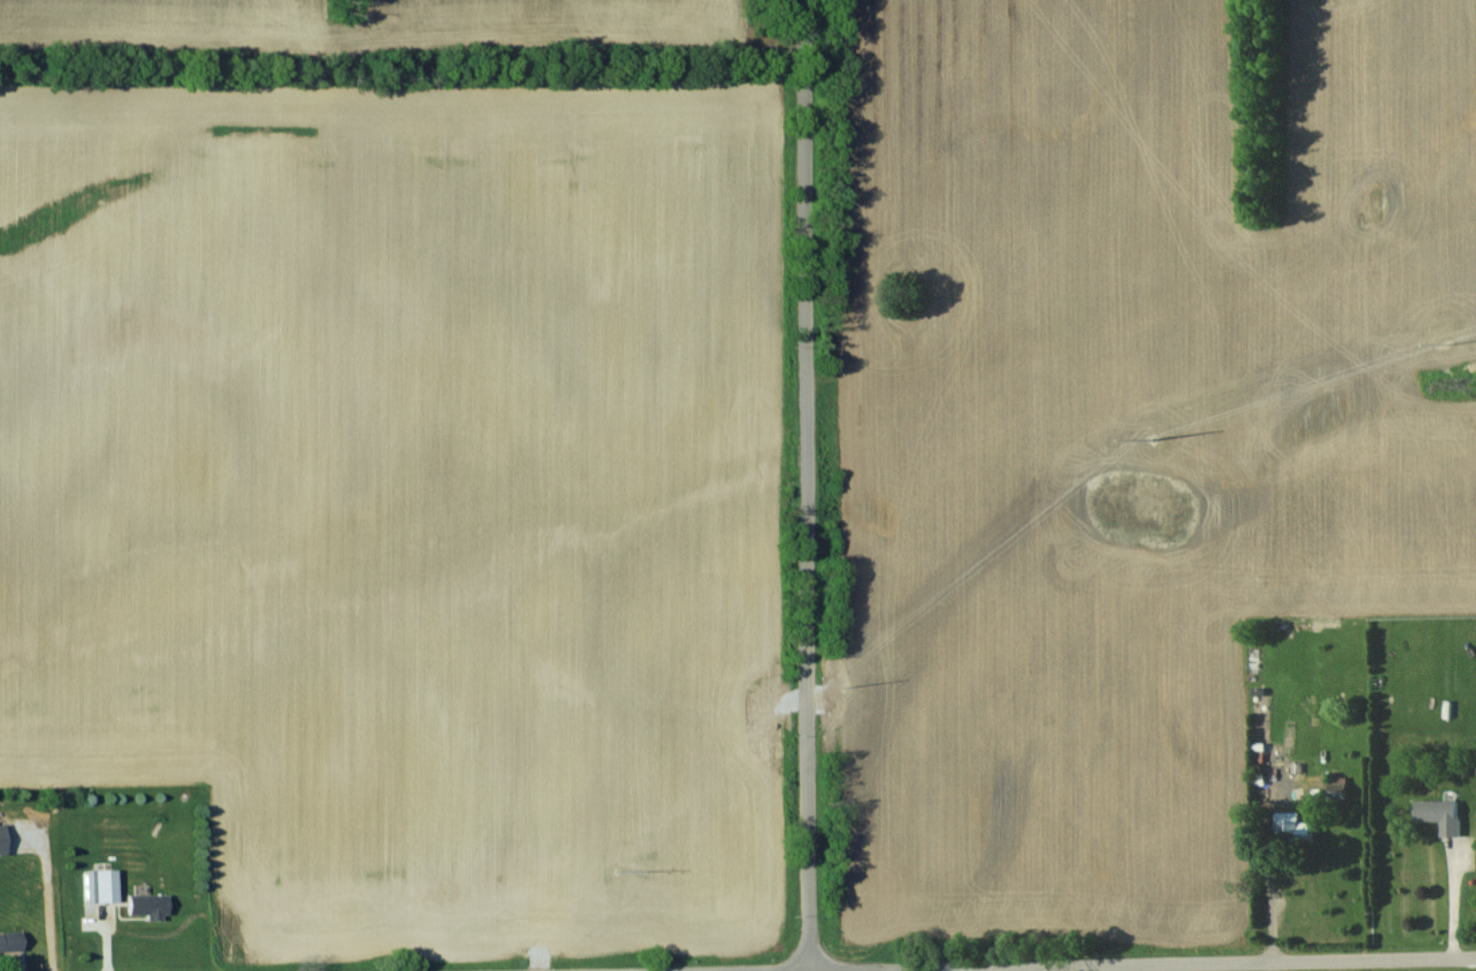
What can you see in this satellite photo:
road: (808, 484)
building: (1338, 786)
building: (1441, 814)
building: (1292, 824)
building: (1, 839)
building: (99, 885)
road: (1458, 897)
building: (147, 905)
road: (1269, 906)
building: (10, 941)
road: (1143, 962)
road: (720, 969)

